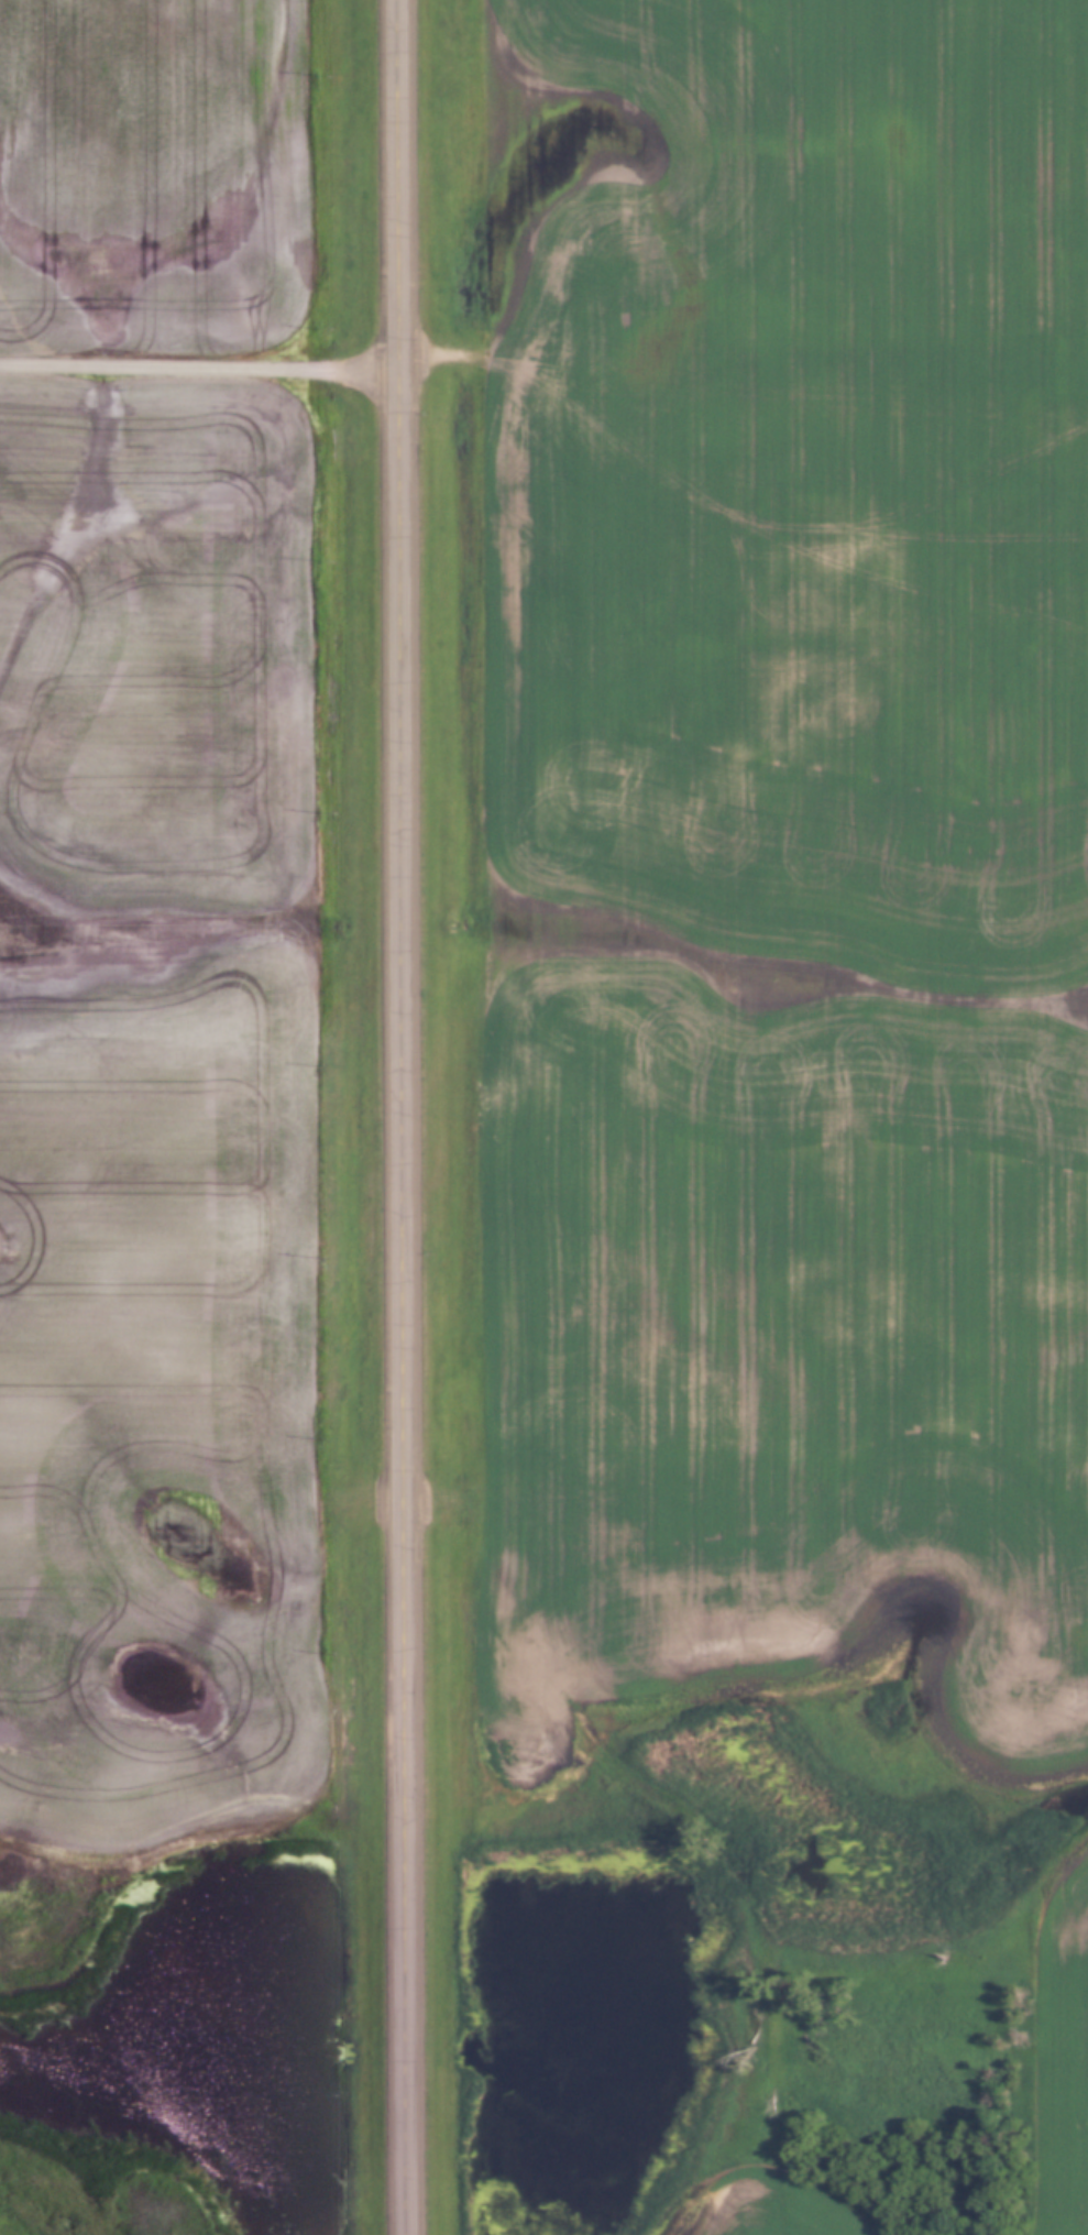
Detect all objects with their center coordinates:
road: (202, 370)
road: (408, 1117)

